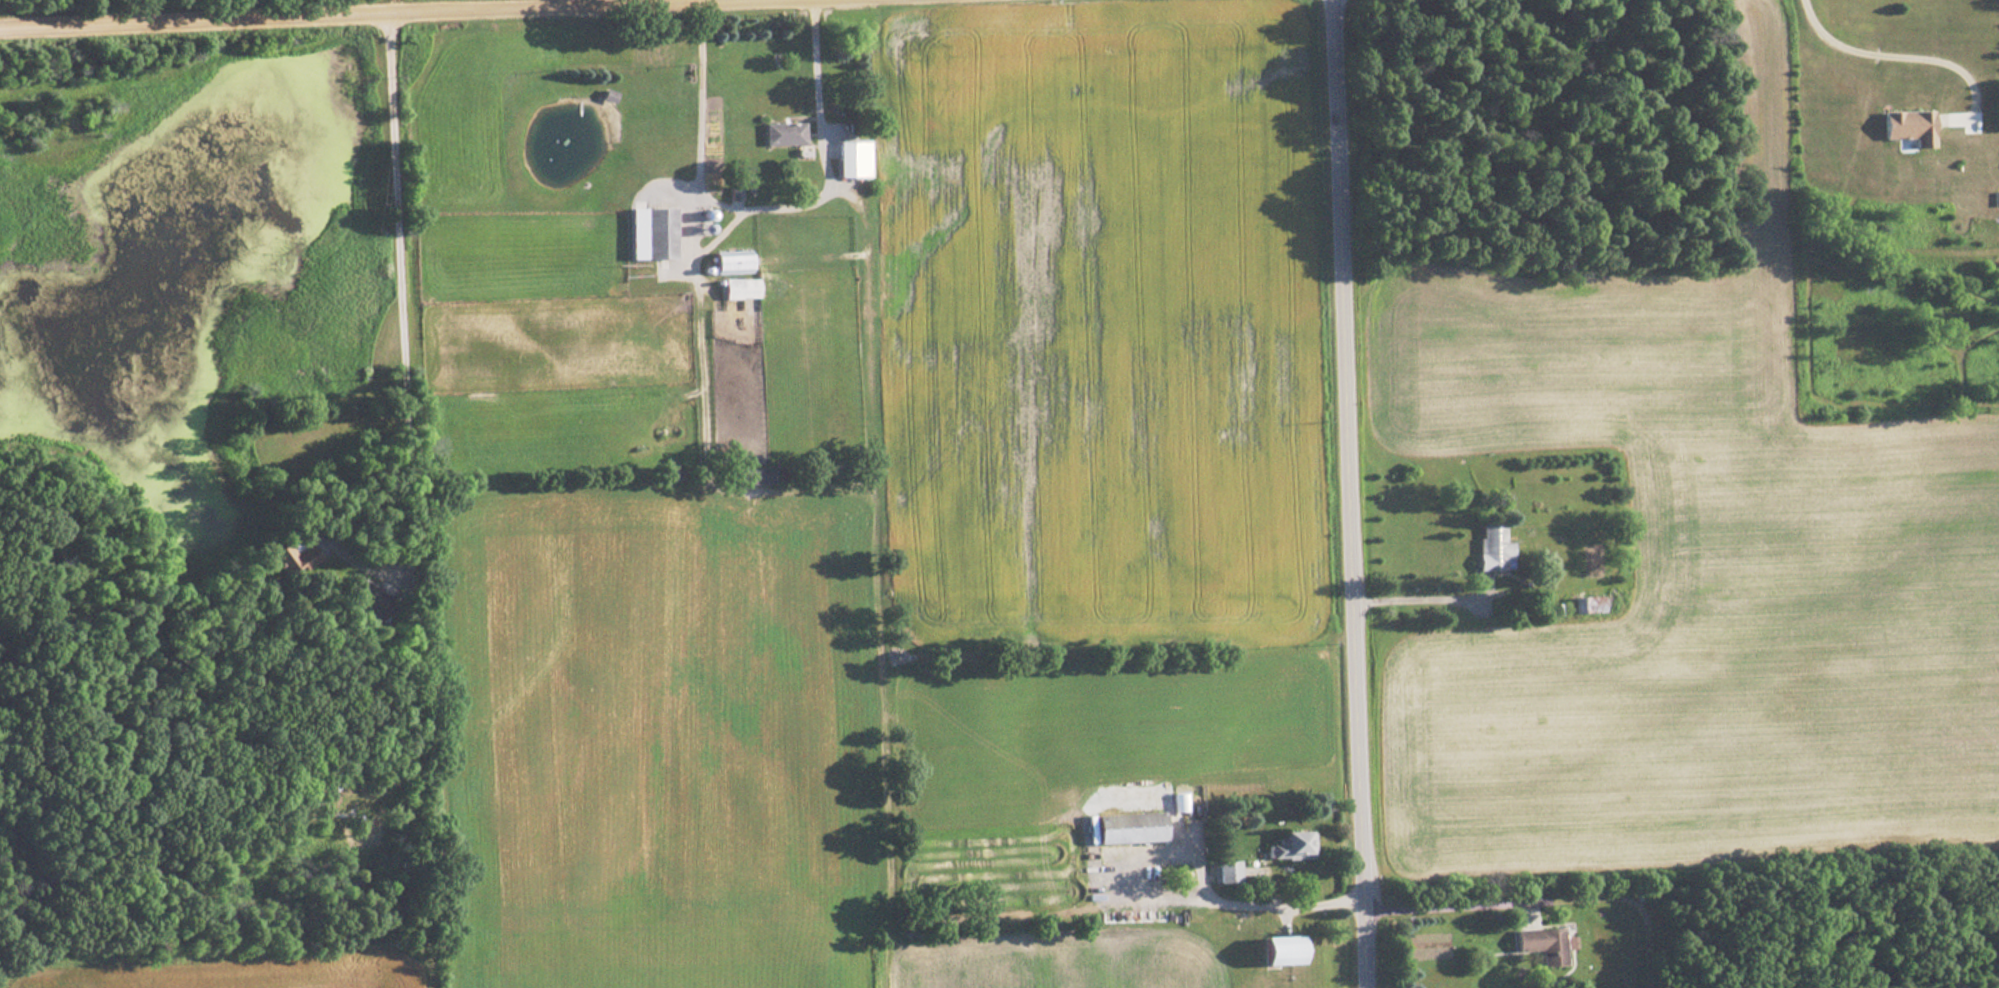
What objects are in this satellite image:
park: (85, 3)
road: (283, 12)
road: (1923, 45)
building: (606, 95)
road: (815, 96)
building: (1906, 127)
building: (779, 134)
building: (849, 158)
building: (654, 233)
building: (725, 262)
building: (736, 288)
road: (871, 379)
road: (403, 396)
building: (747, 476)
road: (1352, 494)
building: (1491, 548)
road: (1426, 598)
building: (1583, 603)
building: (1125, 827)
building: (1288, 846)
building: (1223, 871)
road: (1200, 884)
road: (1448, 905)
building: (1540, 944)
building: (1271, 950)

